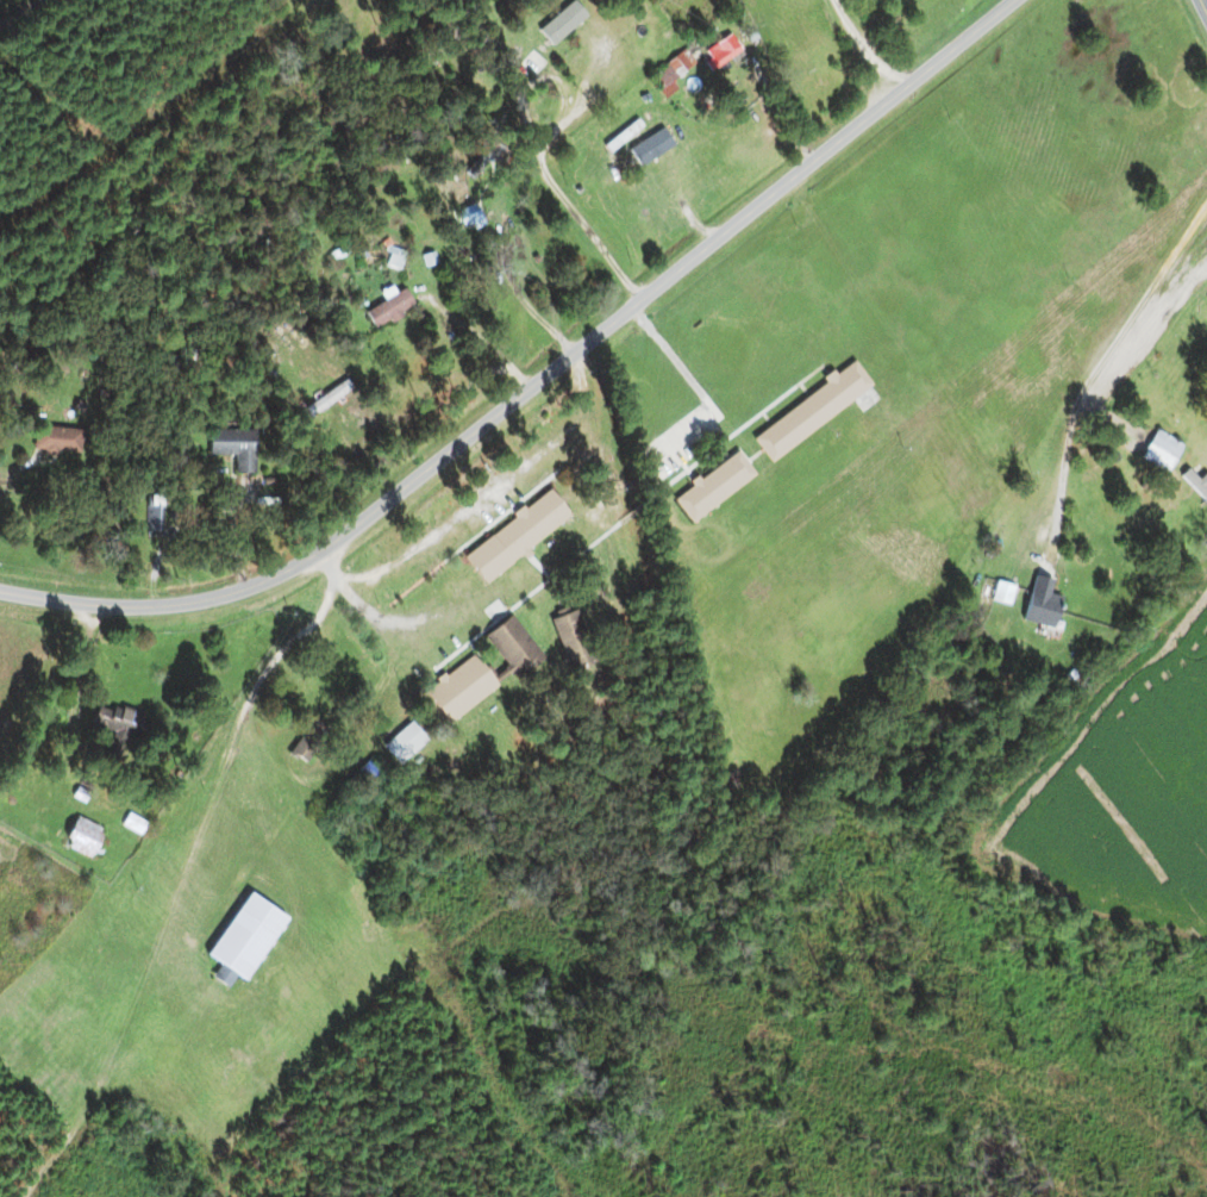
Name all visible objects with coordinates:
road: (1203, 7)
road: (20, 13)
building: (563, 17)
road: (864, 45)
building: (726, 46)
building: (671, 74)
building: (473, 222)
building: (388, 308)
road: (537, 381)
road: (694, 388)
road: (1180, 403)
building: (808, 411)
road: (594, 435)
building: (56, 439)
building: (231, 442)
building: (1161, 451)
road: (18, 468)
building: (713, 485)
building: (154, 517)
road: (436, 530)
building: (513, 536)
building: (1002, 593)
building: (1040, 603)
road: (394, 618)
building: (567, 635)
road: (295, 638)
building: (512, 647)
building: (458, 687)
building: (108, 719)
building: (405, 742)
building: (82, 836)
building: (244, 939)

